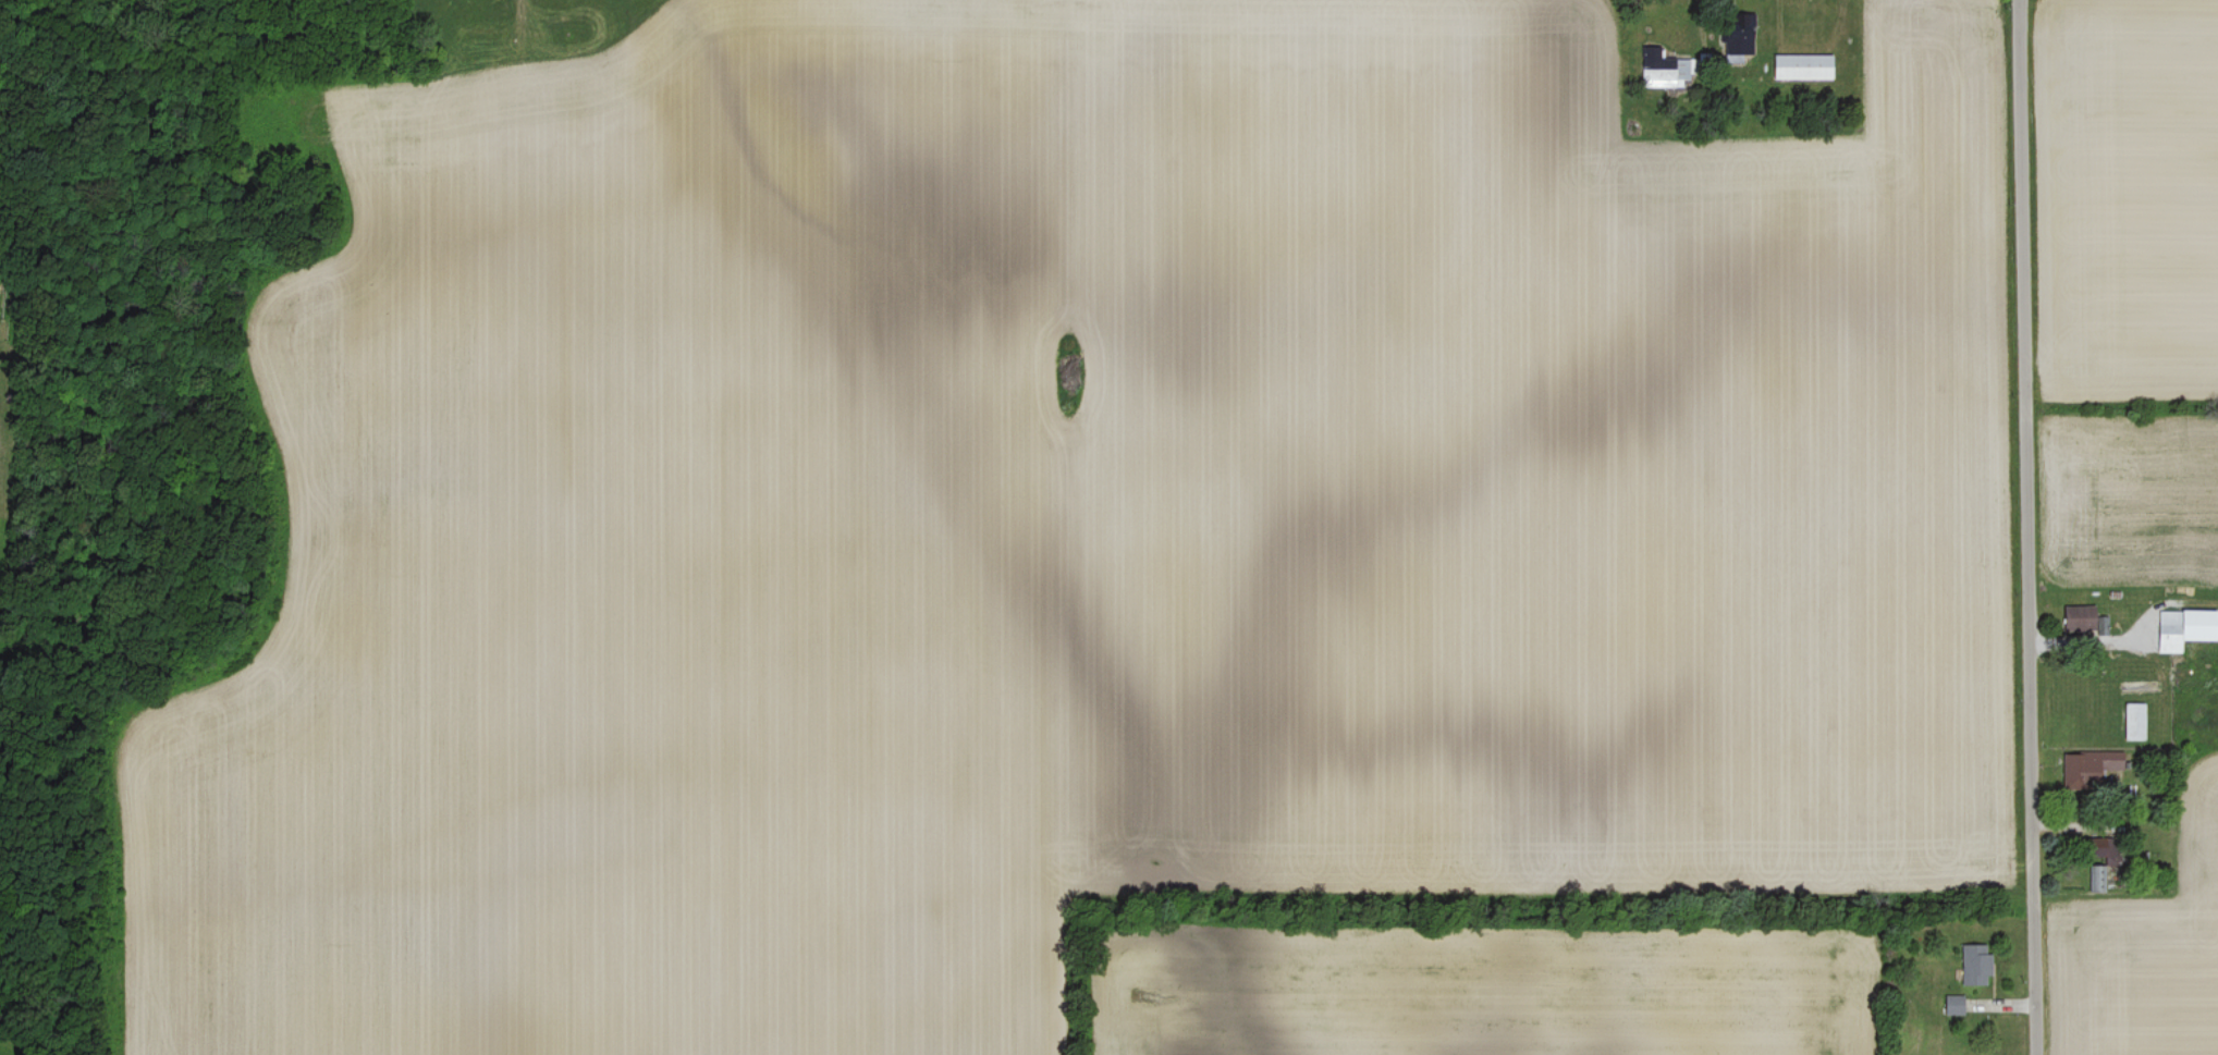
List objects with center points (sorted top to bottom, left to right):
building: (1740, 36)
building: (1803, 69)
road: (2025, 527)
building: (2079, 619)
building: (2185, 630)
building: (2135, 722)
building: (2090, 768)
building: (2095, 848)
building: (2099, 881)
building: (1976, 966)
building: (1954, 1007)

